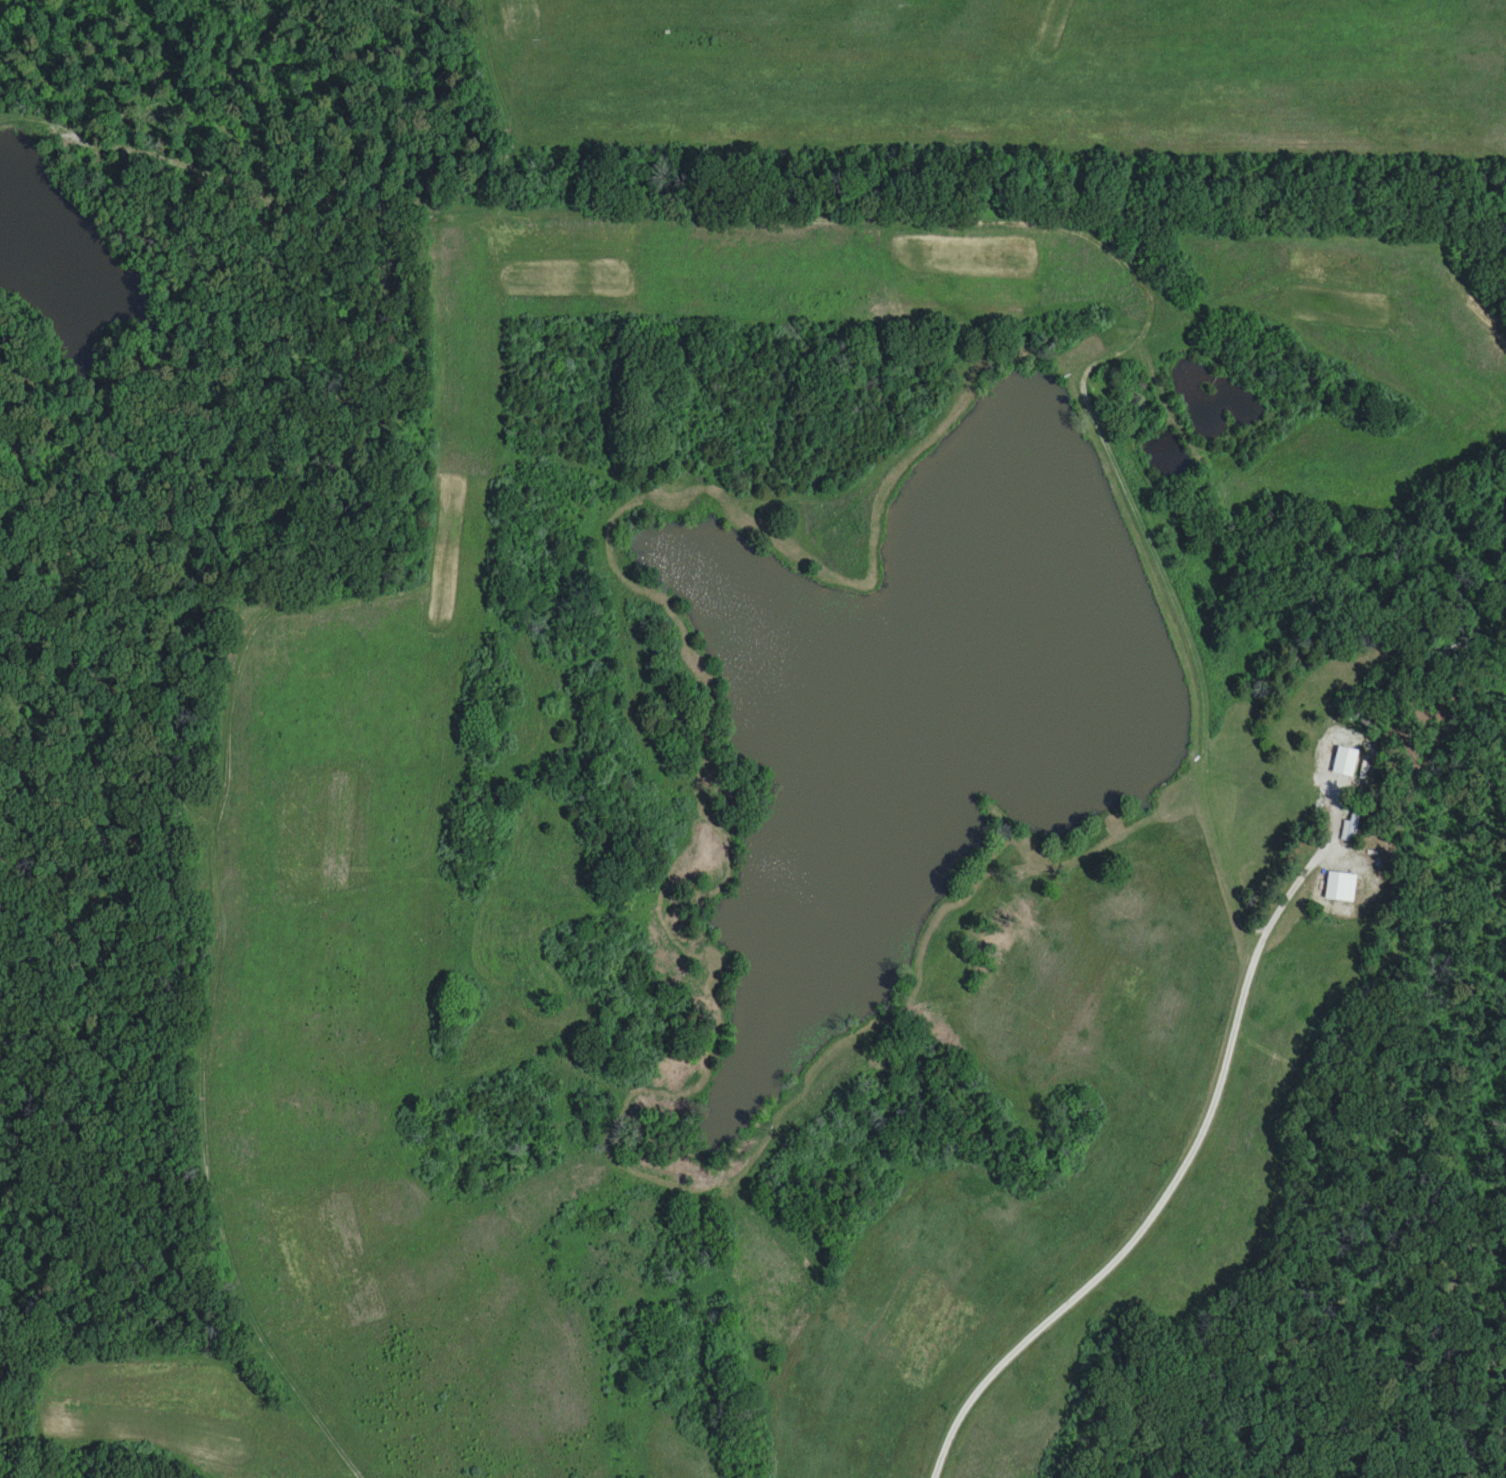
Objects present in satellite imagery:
building: (1346, 889)
road: (1174, 1184)

